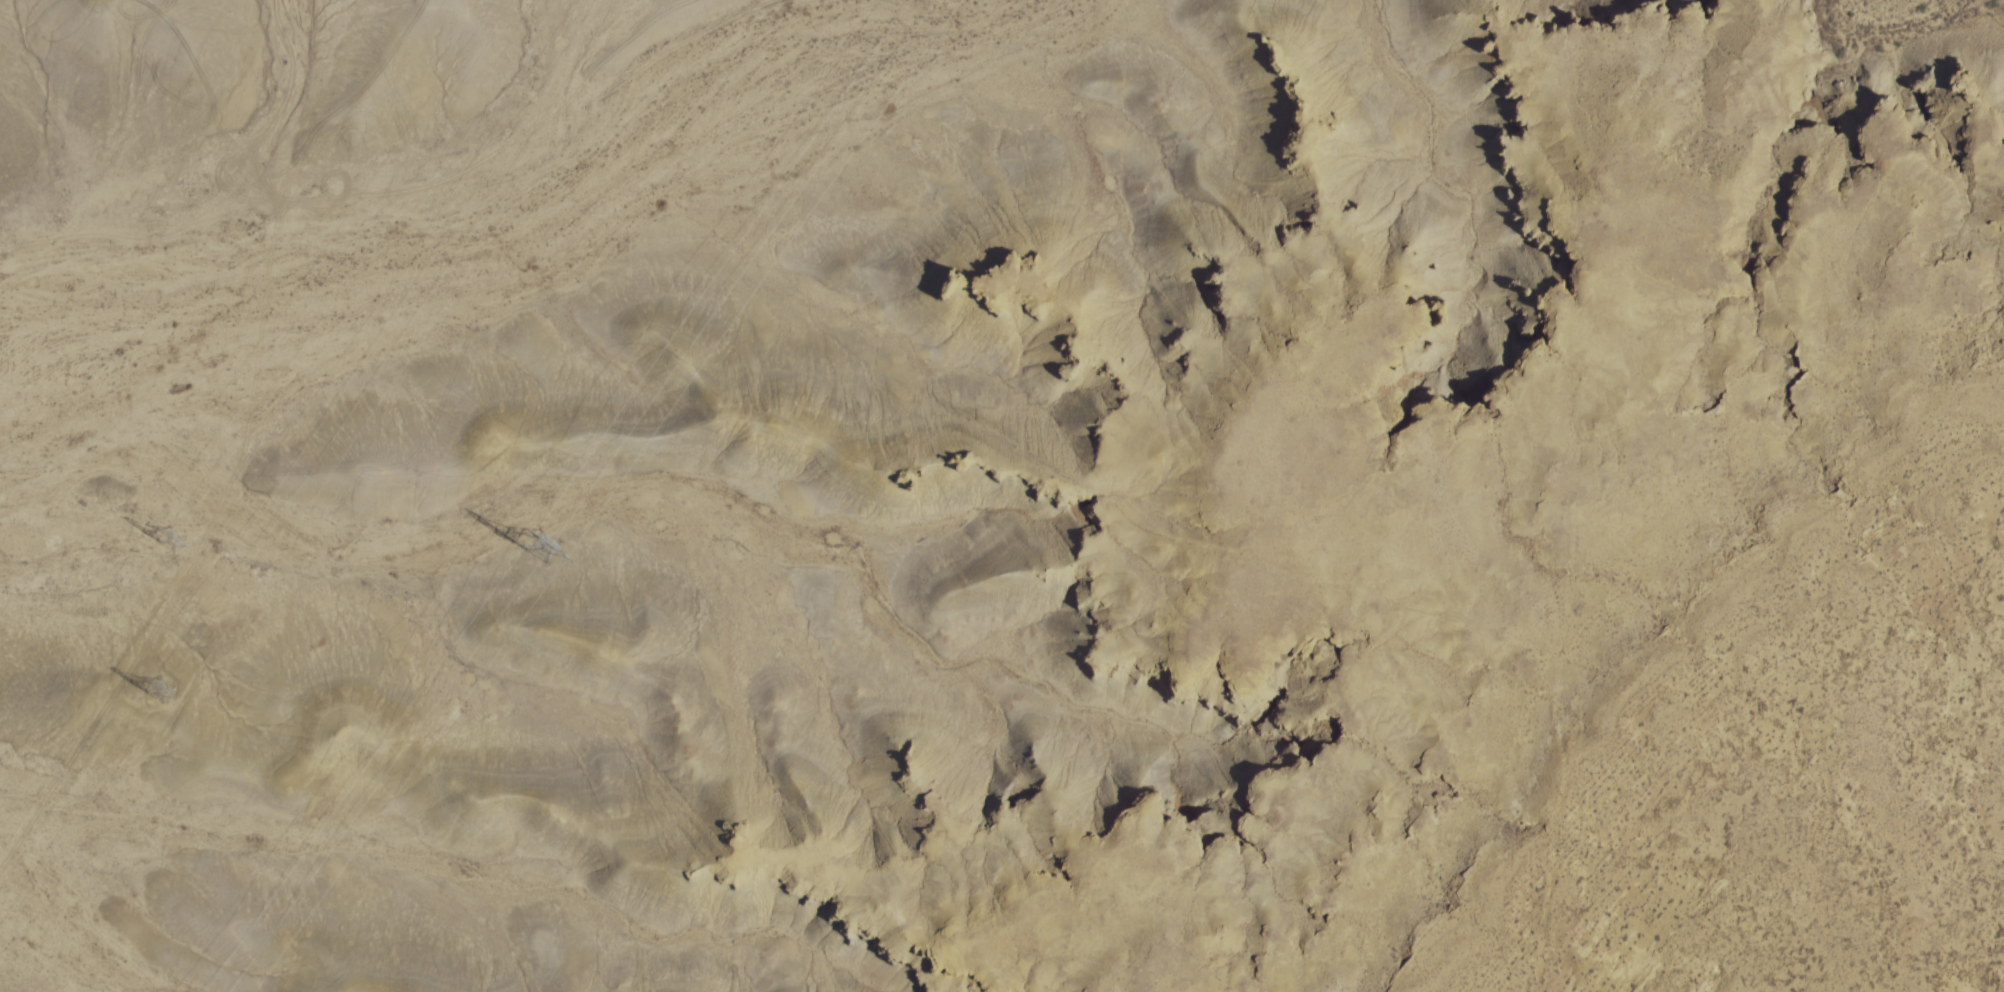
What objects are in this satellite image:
power tower: (177, 537)
power tower: (537, 546)
power tower: (164, 689)

